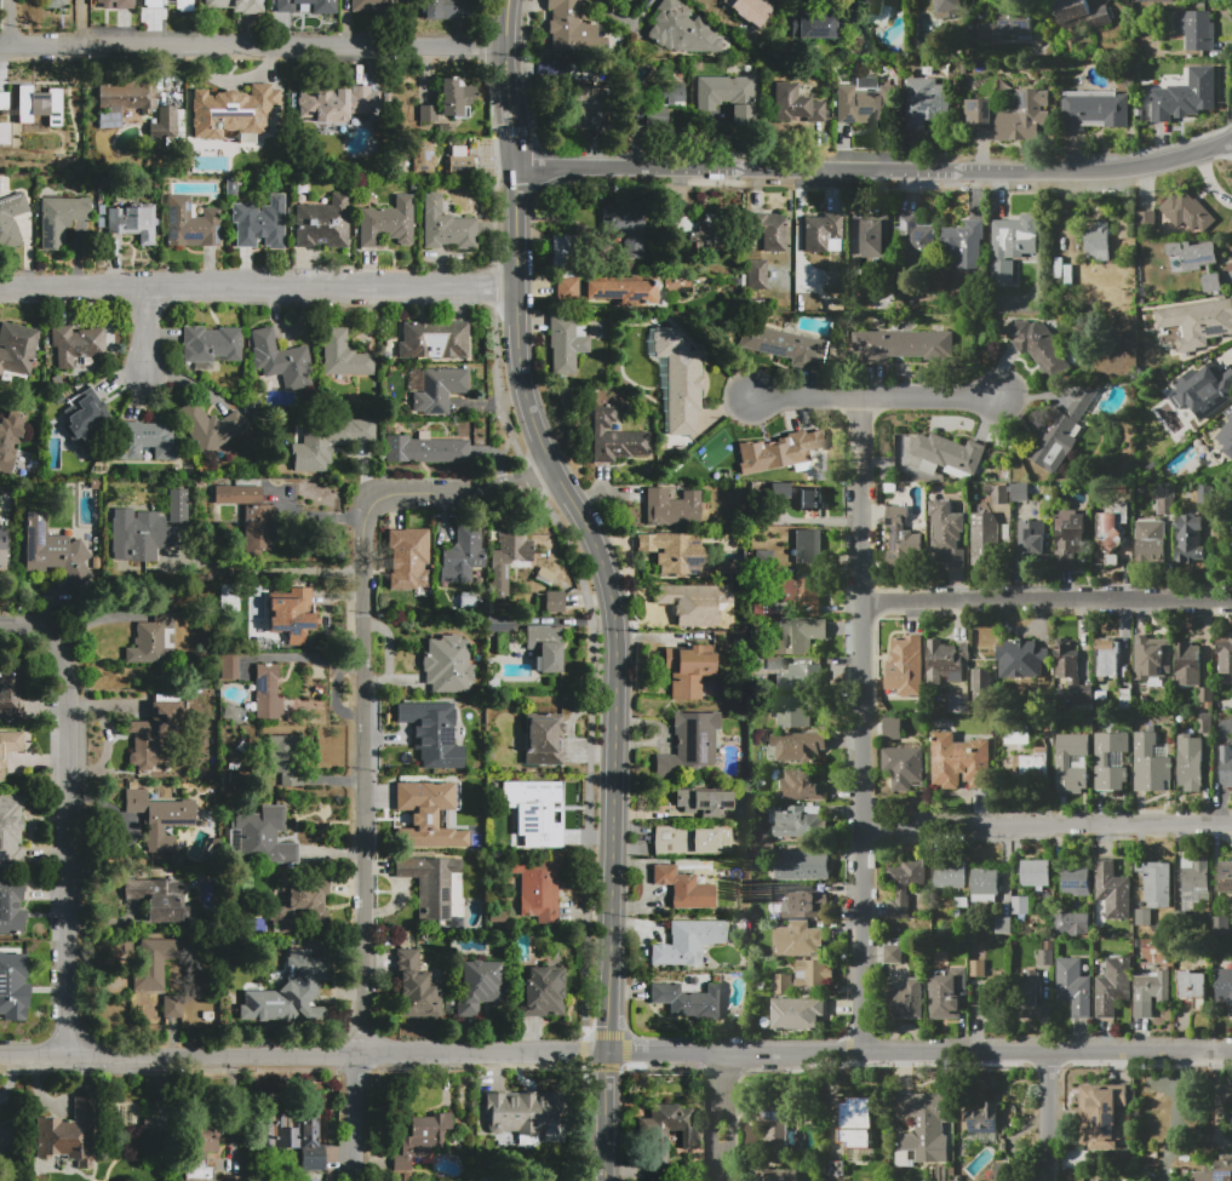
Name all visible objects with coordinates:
building: (1163, 0)
building: (53, 4)
building: (182, 5)
building: (236, 5)
building: (124, 6)
building: (376, 6)
building: (872, 6)
building: (323, 7)
building: (947, 7)
building: (448, 8)
building: (751, 10)
building: (154, 11)
building: (1081, 13)
road: (623, 19)
road: (7, 22)
building: (1008, 23)
building: (816, 25)
building: (571, 27)
building: (682, 29)
building: (1197, 29)
road: (252, 44)
building: (35, 94)
building: (1185, 94)
building: (128, 96)
building: (726, 96)
building: (449, 97)
building: (247, 98)
building: (2, 99)
building: (865, 102)
building: (926, 102)
building: (336, 103)
building: (655, 103)
building: (795, 104)
building: (212, 107)
building: (588, 107)
building: (1093, 109)
building: (428, 113)
building: (1010, 115)
building: (12, 117)
building: (110, 120)
building: (164, 122)
building: (2, 132)
building: (252, 144)
building: (424, 156)
building: (460, 166)
road: (875, 171)
building: (1186, 211)
building: (59, 218)
building: (11, 219)
building: (1146, 220)
building: (132, 222)
building: (190, 223)
building: (259, 223)
building: (322, 223)
building: (386, 223)
building: (446, 227)
building: (625, 227)
building: (1125, 229)
building: (692, 230)
building: (769, 230)
building: (820, 231)
building: (870, 236)
building: (1014, 236)
building: (912, 240)
building: (1099, 240)
building: (964, 246)
building: (561, 247)
building: (1193, 254)
building: (1002, 273)
building: (756, 275)
building: (1068, 275)
building: (1211, 282)
building: (567, 288)
building: (621, 291)
road: (258, 296)
building: (1198, 322)
road: (143, 334)
building: (434, 339)
building: (565, 343)
building: (777, 343)
building: (76, 344)
building: (211, 344)
building: (901, 344)
building: (1038, 345)
building: (17, 346)
building: (343, 355)
building: (280, 360)
building: (678, 380)
building: (1203, 388)
building: (439, 390)
road: (877, 396)
building: (85, 422)
building: (210, 426)
building: (1059, 432)
building: (1225, 432)
building: (10, 437)
building: (615, 437)
building: (149, 441)
building: (327, 442)
building: (425, 449)
building: (777, 454)
building: (949, 454)
building: (928, 468)
building: (777, 489)
building: (1019, 492)
building: (997, 493)
building: (1204, 493)
building: (237, 494)
building: (810, 499)
building: (1165, 499)
building: (176, 504)
building: (671, 508)
building: (1112, 524)
building: (258, 528)
building: (946, 533)
building: (139, 535)
building: (900, 535)
building: (985, 535)
building: (1190, 538)
building: (1032, 540)
building: (1068, 540)
building: (1150, 541)
building: (806, 544)
building: (1, 547)
building: (52, 550)
building: (674, 551)
building: (462, 555)
building: (506, 557)
building: (408, 558)
building: (763, 558)
building: (1112, 560)
road: (273, 572)
building: (734, 573)
road: (607, 580)
building: (801, 591)
road: (1045, 598)
building: (554, 602)
building: (694, 602)
building: (758, 608)
building: (291, 614)
building: (494, 620)
building: (798, 635)
building: (153, 638)
building: (545, 646)
building: (1224, 653)
building: (1106, 657)
building: (1151, 657)
building: (1020, 659)
building: (945, 660)
building: (901, 661)
building: (443, 664)
building: (1187, 664)
building: (229, 667)
building: (688, 670)
building: (1071, 671)
building: (807, 675)
building: (980, 683)
building: (11, 690)
building: (267, 692)
building: (1204, 694)
building: (1125, 695)
building: (957, 704)
building: (1231, 705)
building: (792, 710)
building: (231, 712)
road: (860, 722)
building: (1205, 723)
building: (1231, 724)
building: (892, 728)
building: (153, 733)
building: (424, 733)
building: (543, 738)
road: (361, 740)
building: (689, 745)
building: (797, 746)
building: (8, 749)
building: (287, 758)
building: (1102, 759)
building: (959, 762)
building: (1064, 762)
building: (1190, 763)
building: (1030, 764)
building: (1150, 764)
building: (1226, 764)
building: (905, 768)
building: (472, 778)
building: (800, 785)
building: (136, 801)
building: (703, 801)
building: (537, 810)
building: (425, 814)
road: (64, 819)
building: (462, 820)
road: (1045, 821)
building: (167, 822)
building: (801, 822)
building: (11, 831)
building: (259, 837)
building: (686, 841)
building: (800, 866)
building: (1035, 872)
building: (1194, 872)
building: (949, 875)
building: (1225, 877)
building: (984, 881)
building: (1077, 881)
building: (430, 883)
building: (904, 883)
building: (1156, 884)
building: (539, 887)
building: (687, 887)
building: (1111, 893)
building: (1192, 894)
building: (162, 900)
building: (302, 902)
building: (959, 902)
building: (808, 905)
building: (1020, 905)
building: (11, 906)
building: (1186, 906)
building: (1142, 917)
building: (1071, 923)
building: (1003, 924)
building: (800, 939)
building: (687, 941)
building: (892, 952)
building: (5, 953)
building: (1045, 957)
building: (153, 962)
building: (976, 968)
building: (814, 973)
building: (783, 984)
building: (6, 985)
building: (477, 986)
building: (1073, 986)
building: (1112, 986)
building: (1224, 986)
building: (414, 987)
building: (1193, 987)
building: (291, 991)
building: (543, 992)
building: (1150, 992)
building: (947, 993)
building: (1028, 994)
building: (688, 999)
building: (902, 999)
building: (173, 1007)
building: (796, 1013)
road: (976, 1053)
road: (361, 1054)
road: (722, 1078)
road: (1214, 1105)
building: (521, 1111)
building: (1101, 1112)
building: (982, 1118)
road: (1045, 1118)
building: (670, 1122)
building: (855, 1122)
building: (775, 1123)
building: (923, 1125)
road: (716, 1126)
road: (728, 1130)
building: (69, 1135)
building: (292, 1136)
building: (422, 1139)
building: (6, 1140)
building: (199, 1153)
building: (1182, 1156)
building: (658, 1162)
road: (715, 1165)
building: (1005, 1171)
building: (1214, 1171)
building: (775, 1174)
building: (233, 1179)
building: (1098, 1179)

